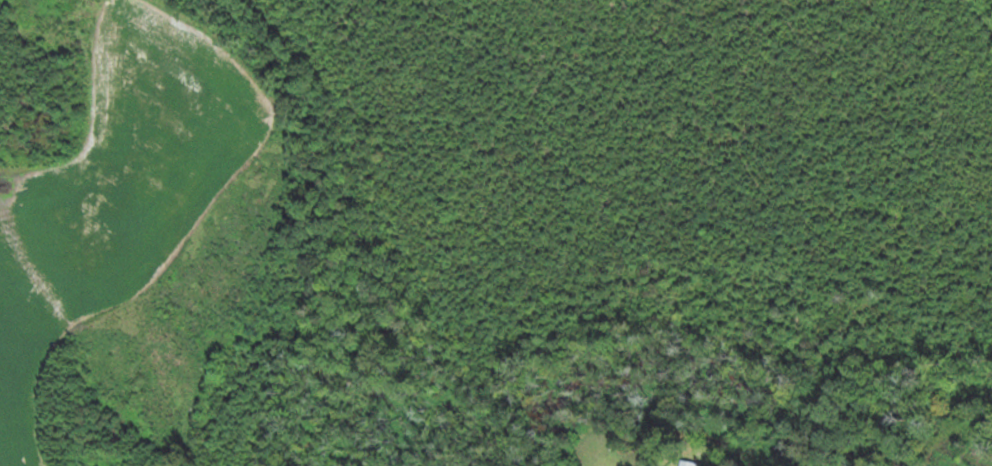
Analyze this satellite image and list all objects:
building: (691, 462)

